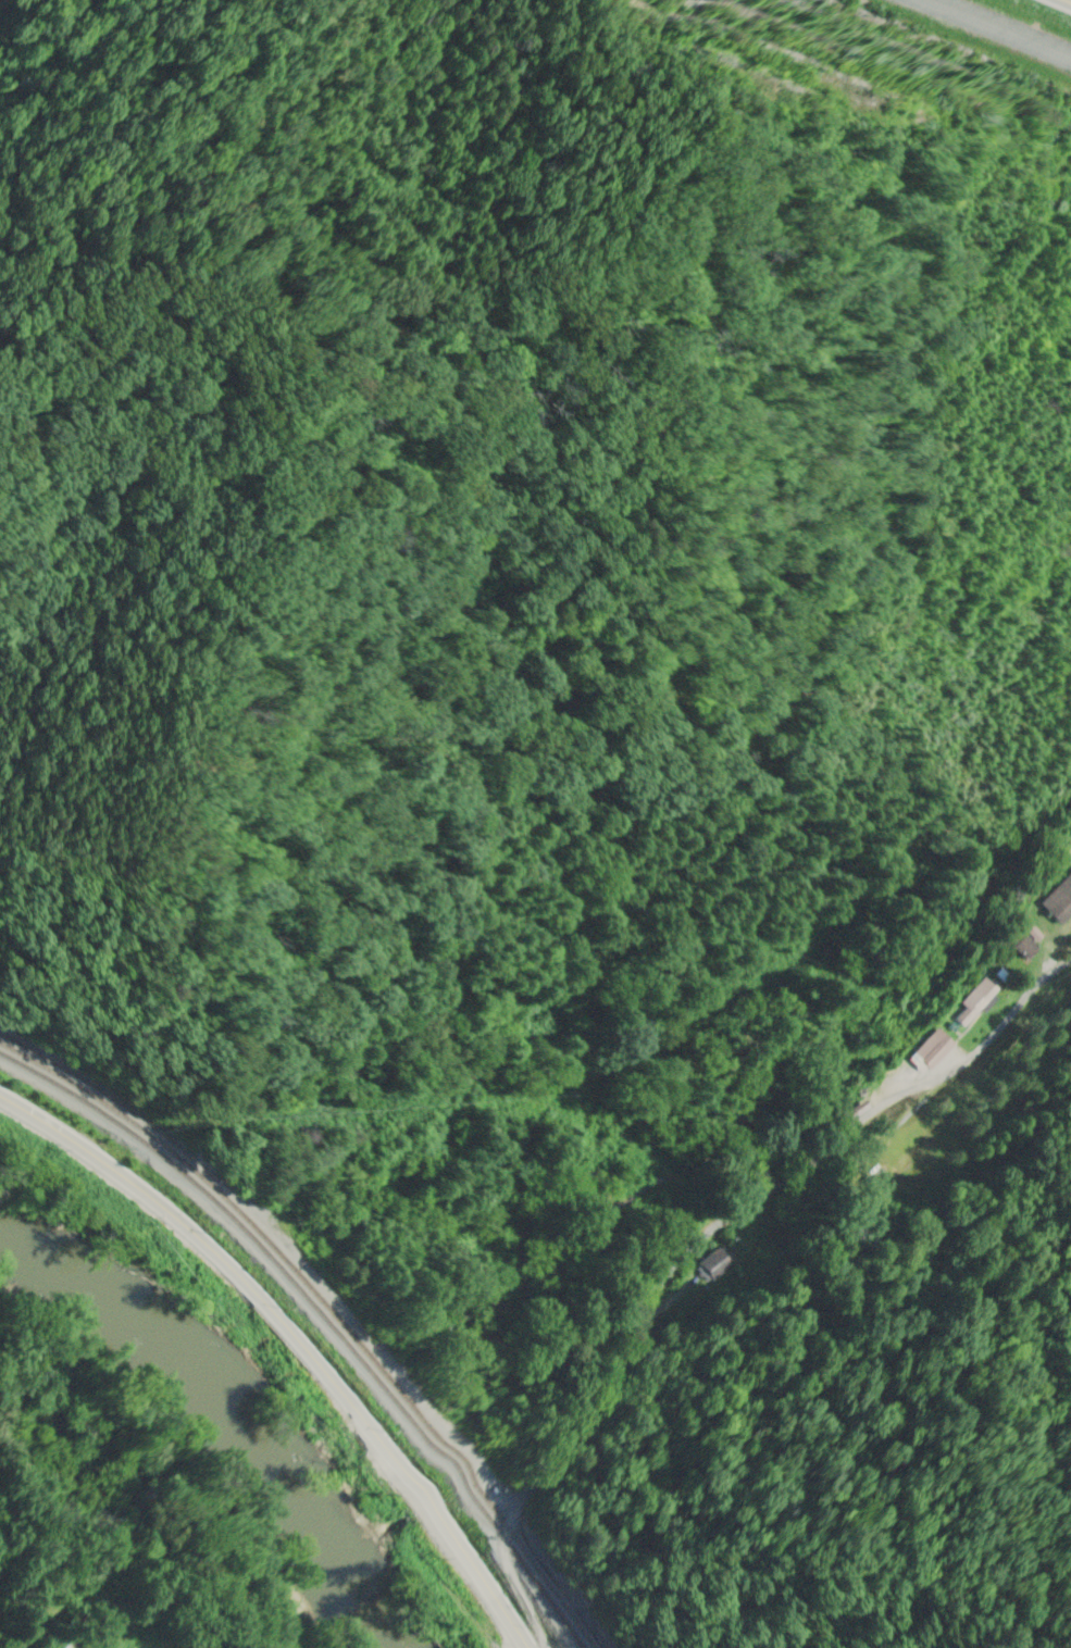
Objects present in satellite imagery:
building: (1057, 900)
building: (1018, 945)
building: (972, 1000)
building: (930, 1050)
road: (695, 1259)
building: (710, 1266)
railway: (323, 1315)
road: (296, 1340)
river: (207, 1426)

